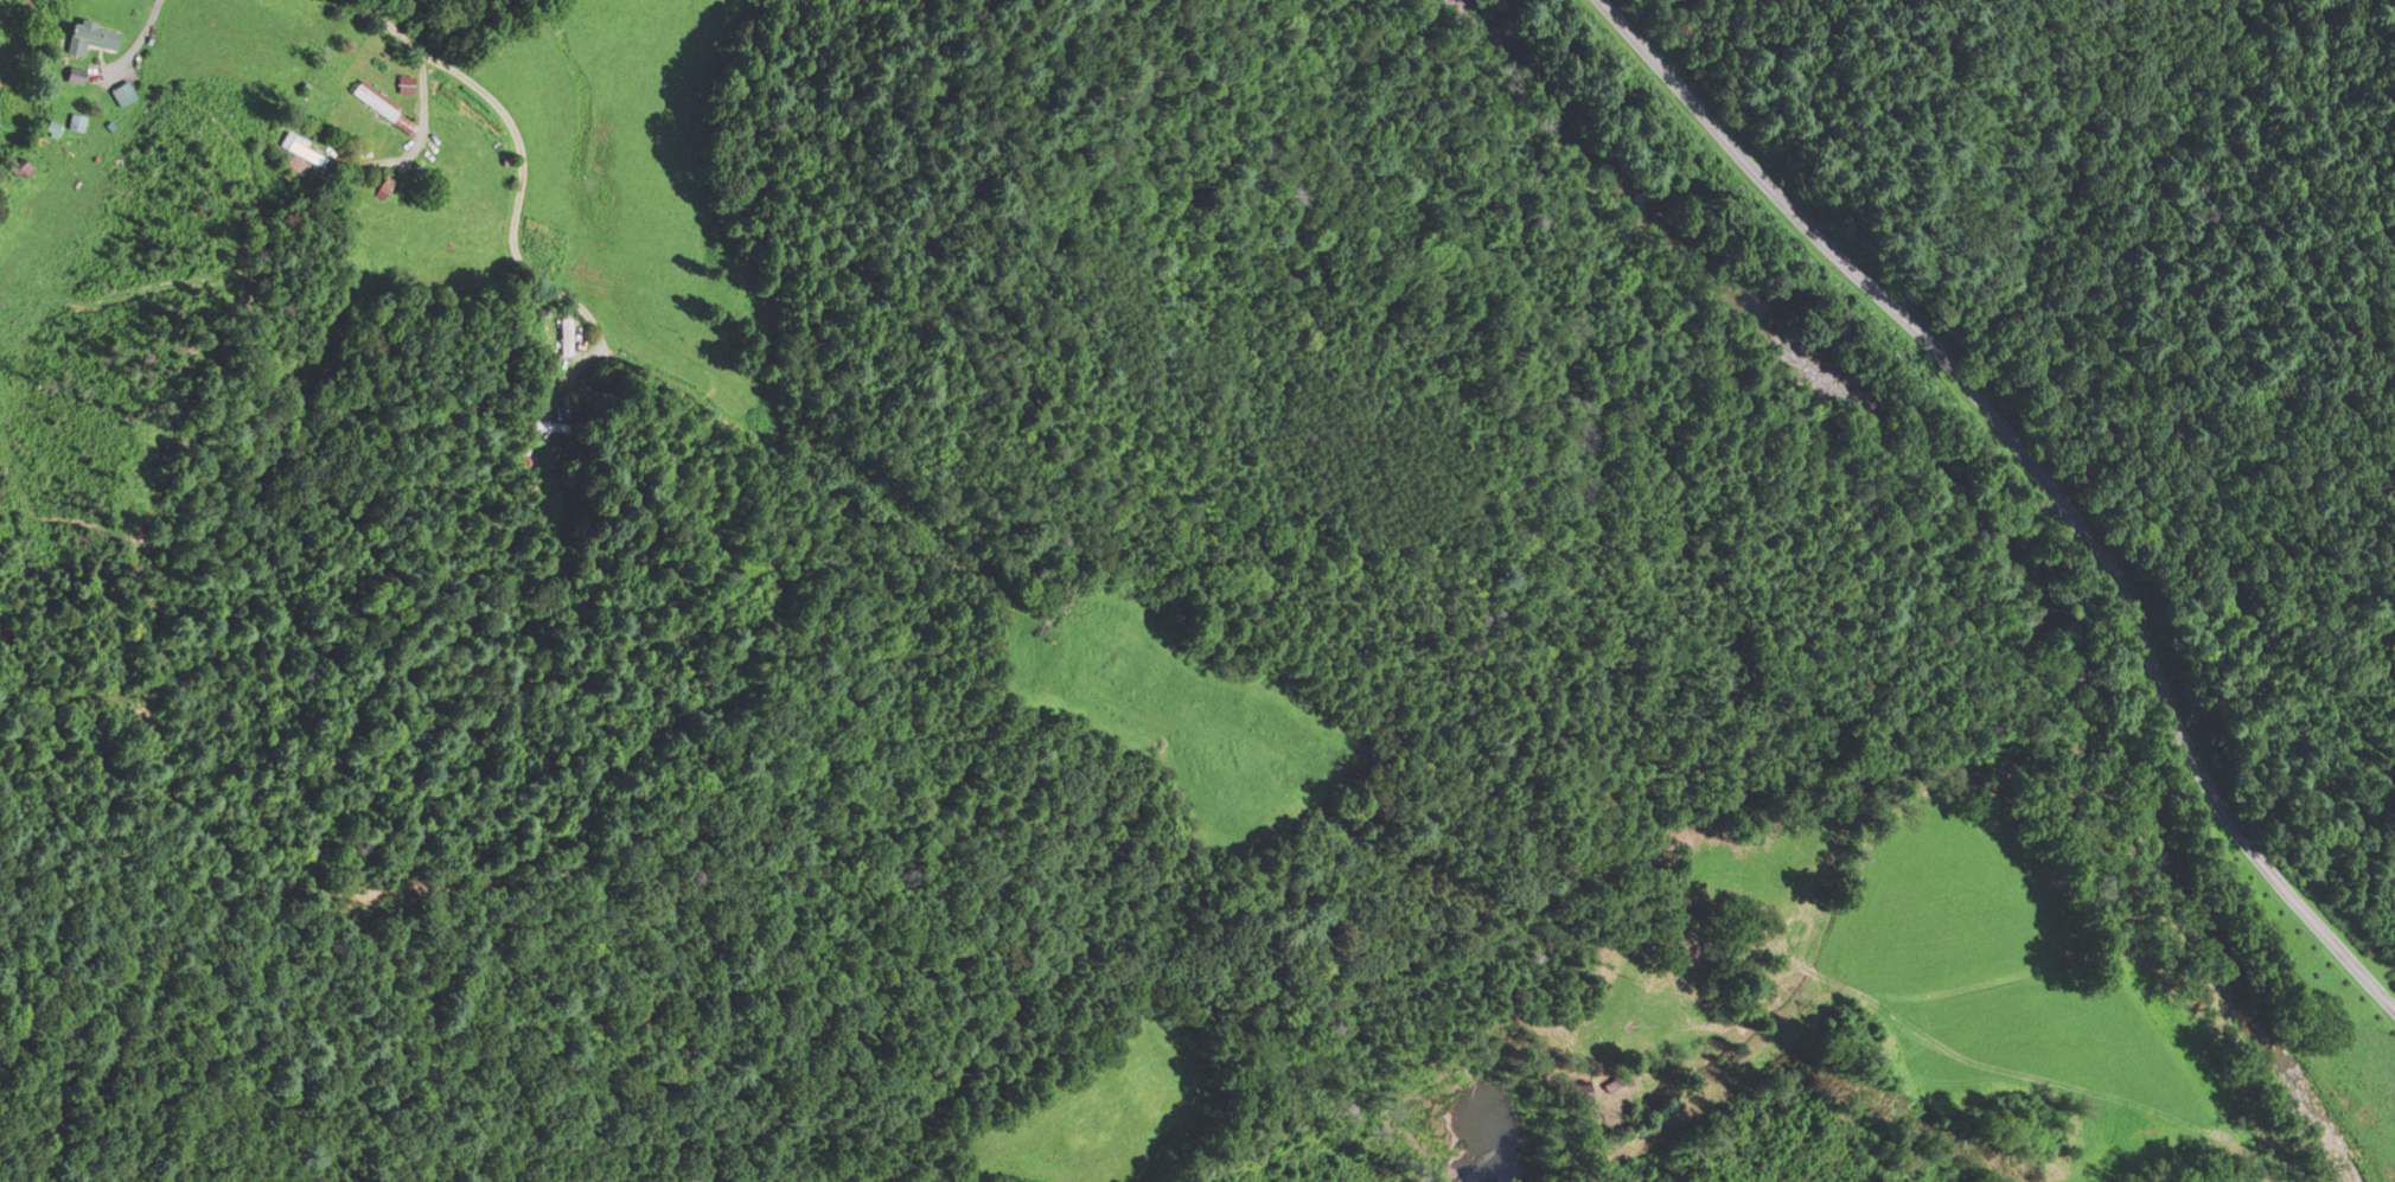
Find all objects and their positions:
building: (87, 40)
road: (135, 47)
building: (401, 87)
building: (123, 95)
building: (371, 103)
building: (293, 147)
building: (432, 234)
building: (563, 338)
road: (622, 357)
building: (543, 424)
road: (2043, 471)
building: (1570, 1094)

